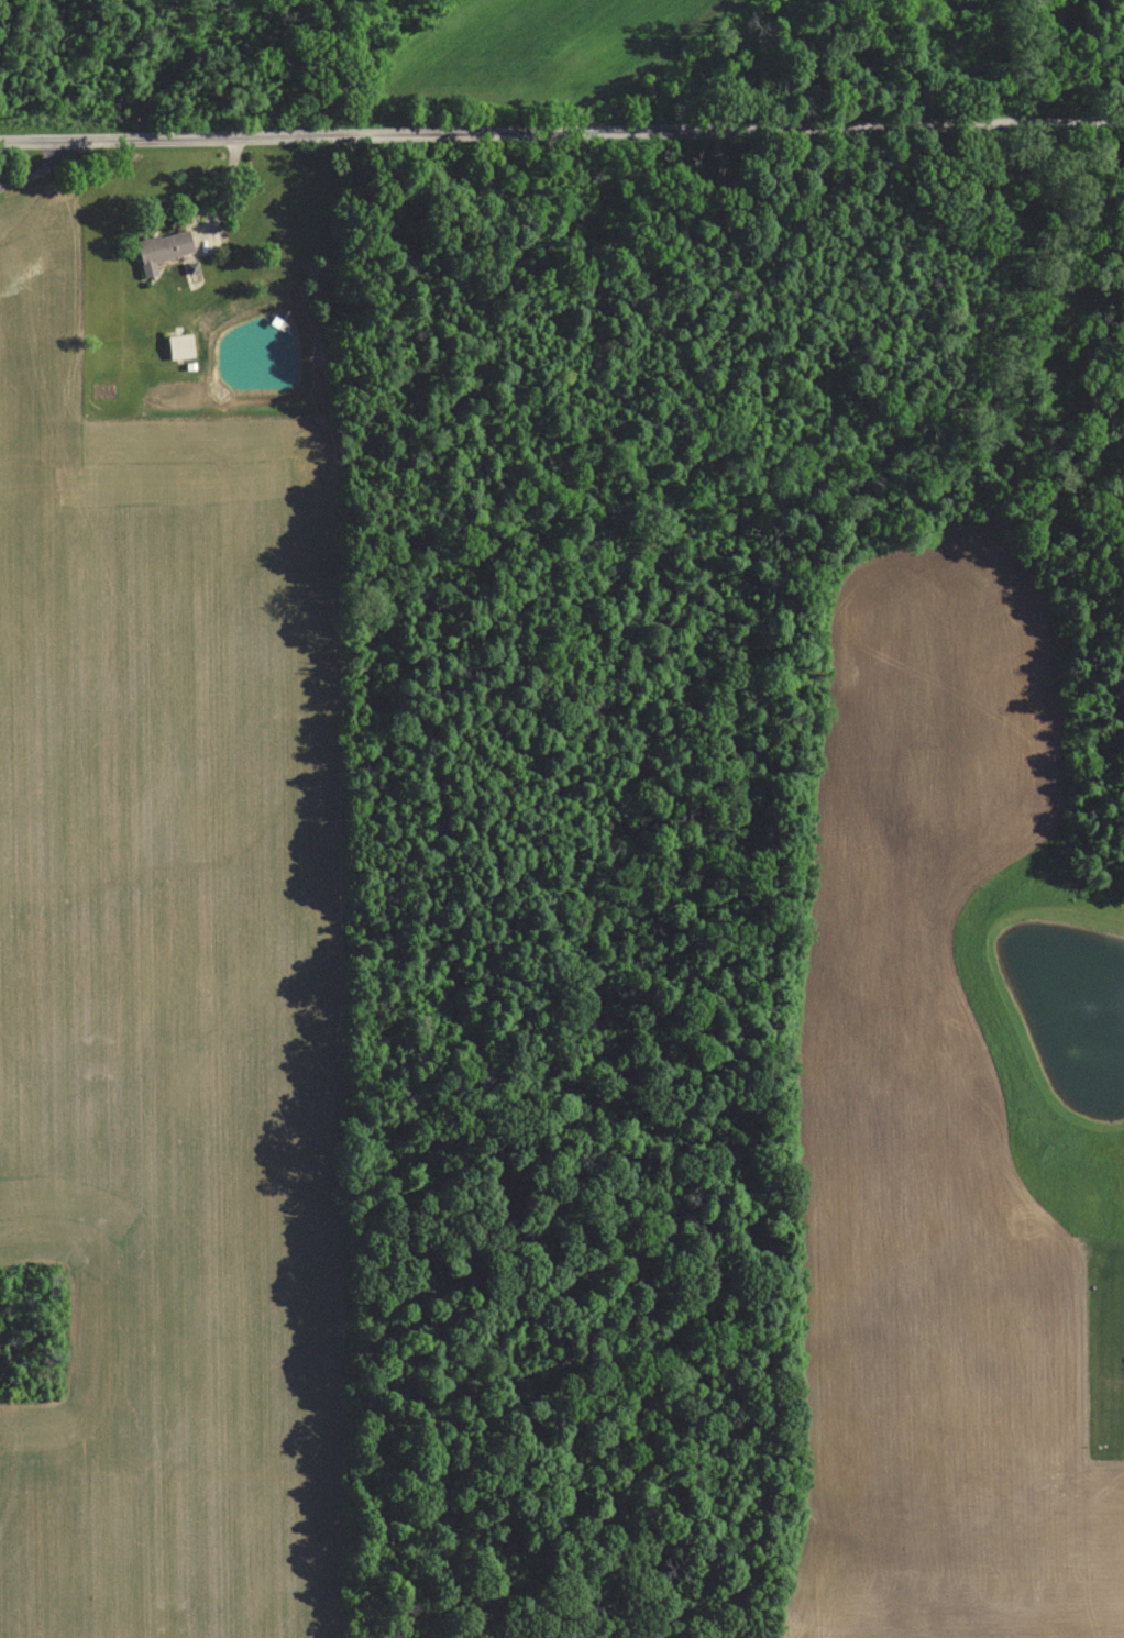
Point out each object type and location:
road: (561, 123)
road: (38, 185)
road: (223, 199)
building: (159, 251)

